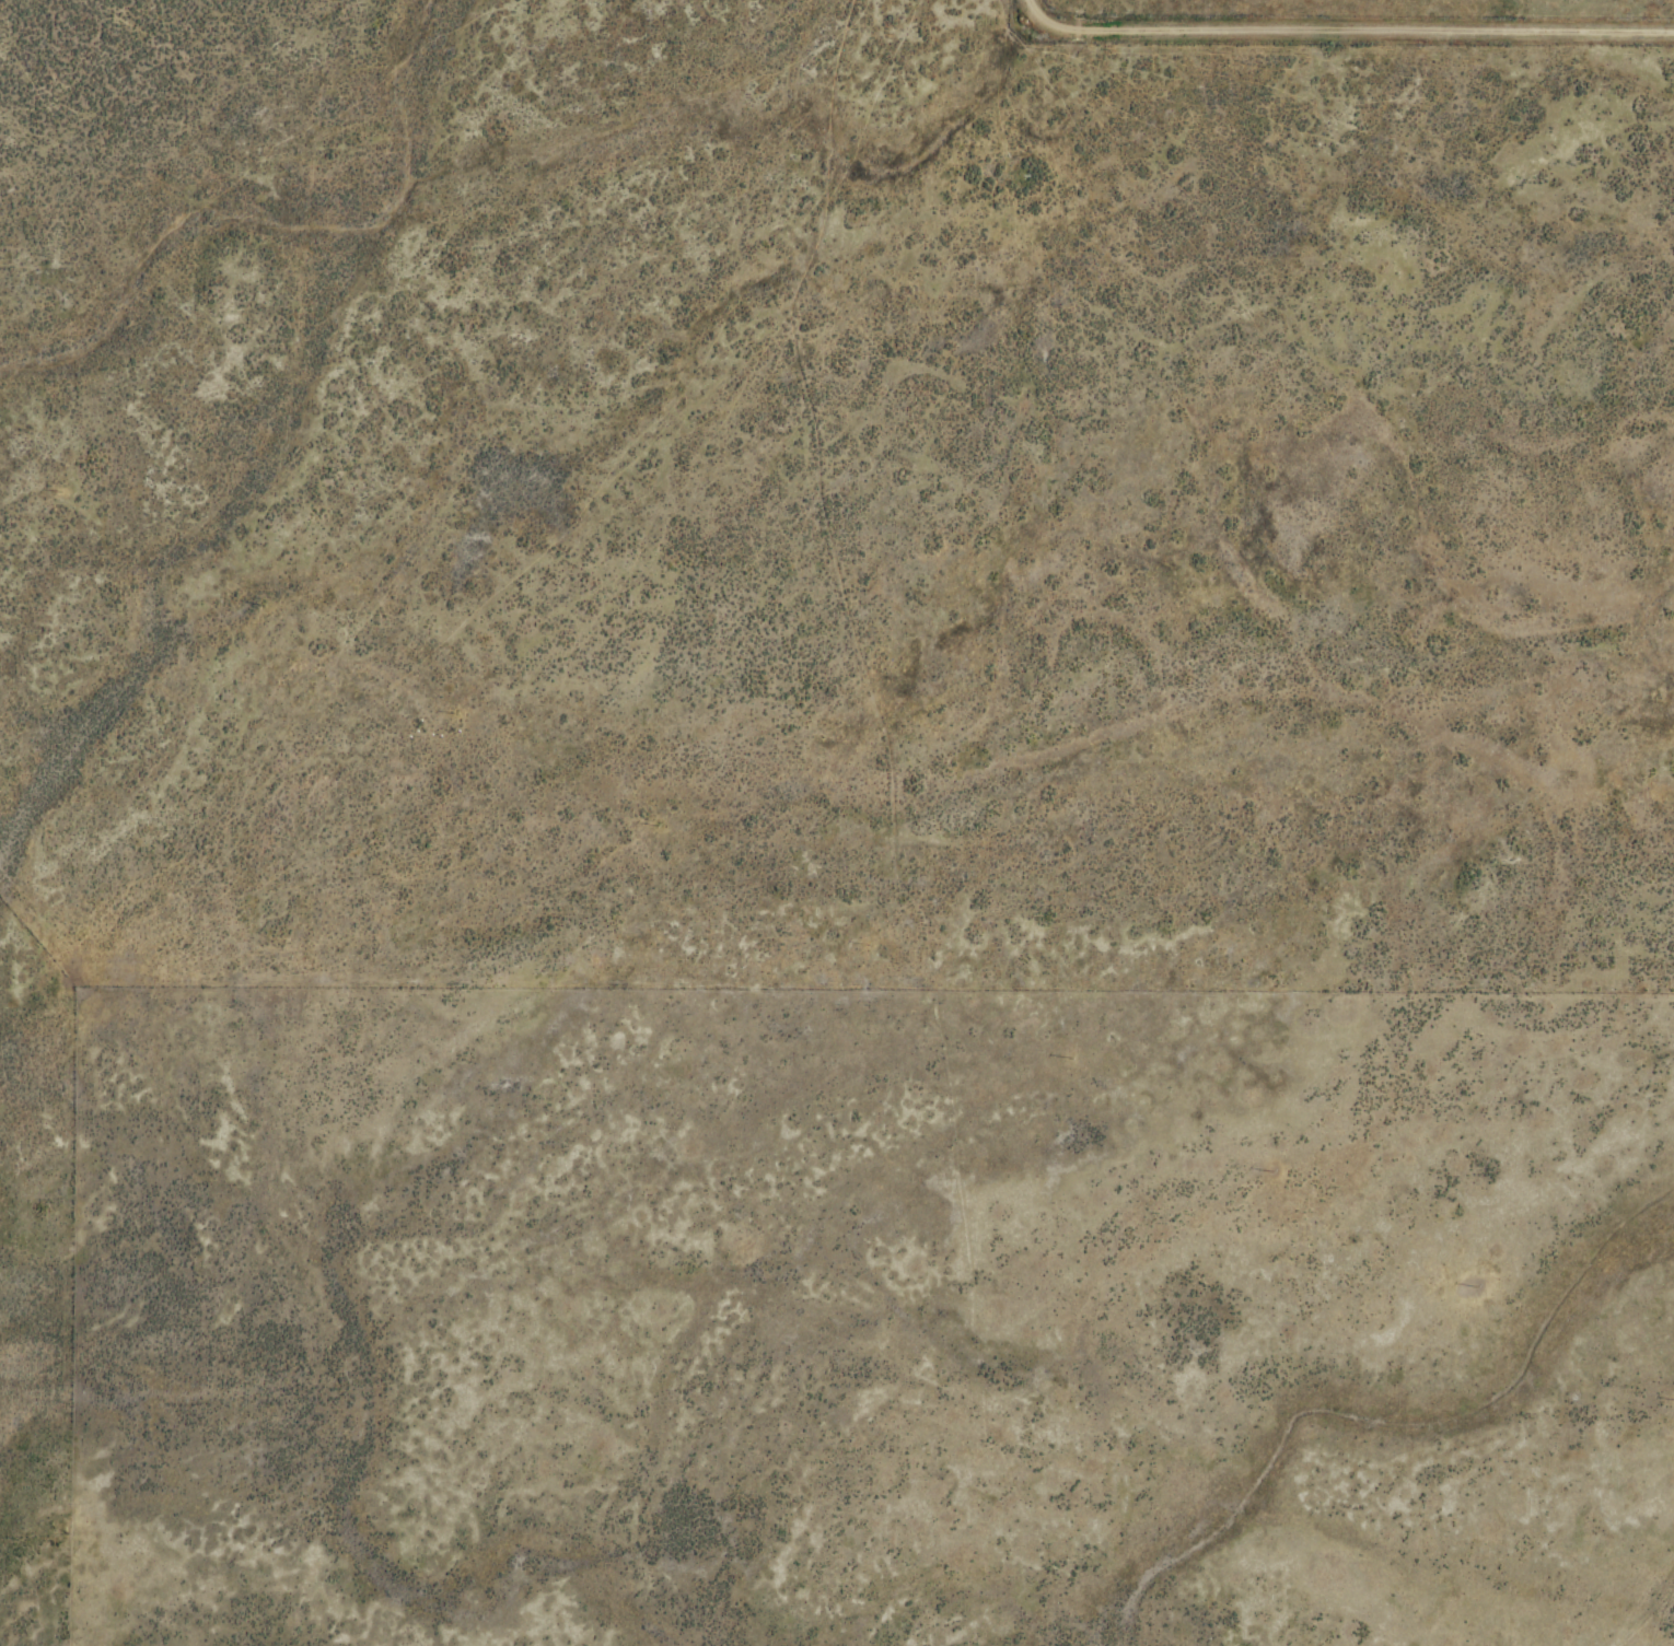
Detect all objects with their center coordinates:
road: (1341, 27)
crop: (837, 822)

